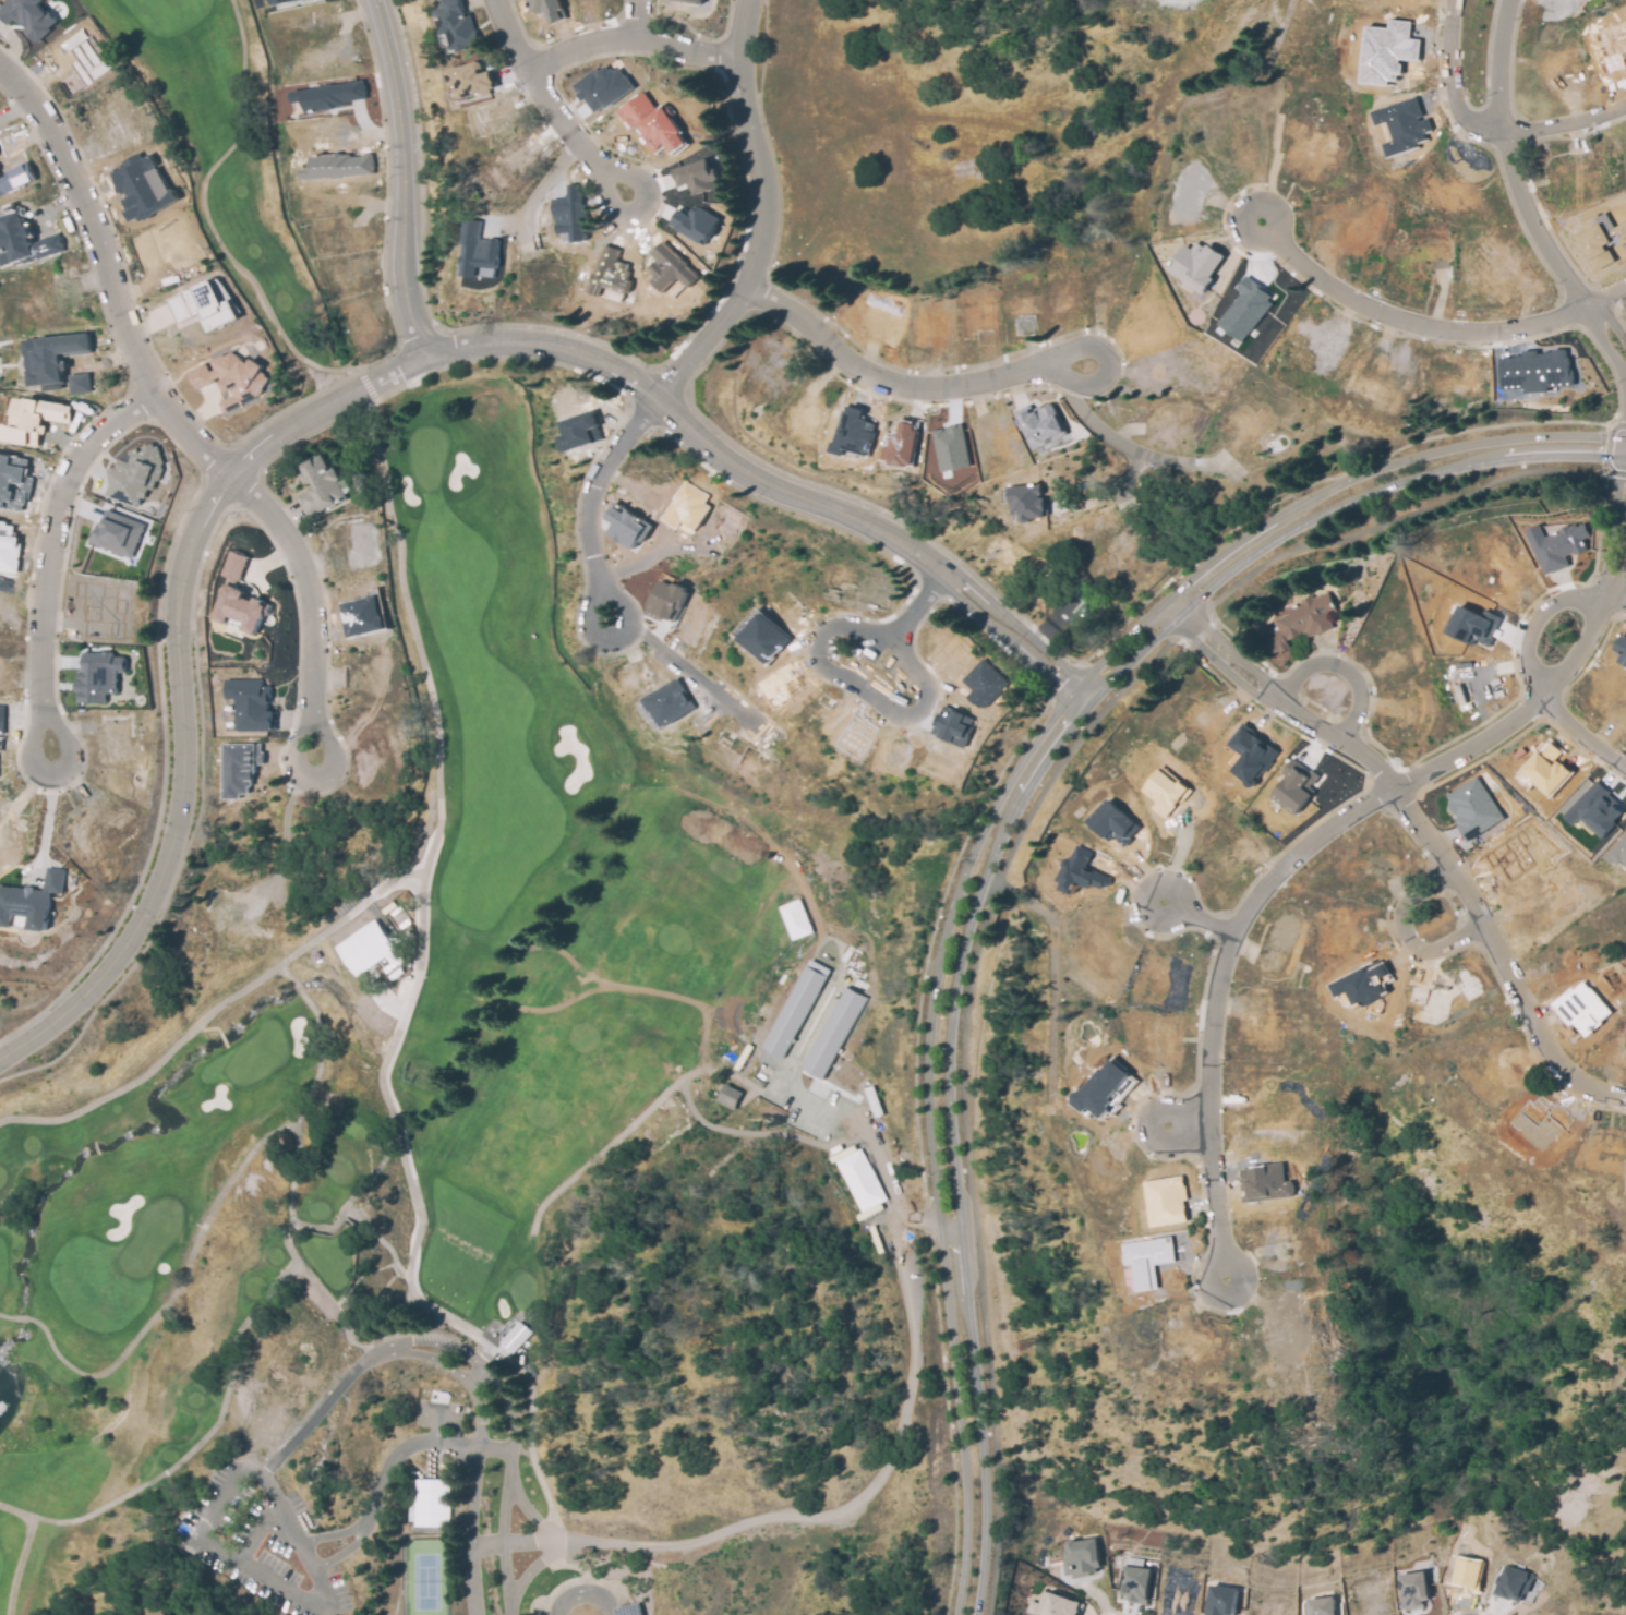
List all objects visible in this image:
building: (276, 1)
building: (696, 1)
building: (546, 8)
building: (28, 16)
road: (634, 19)
building: (455, 23)
road: (508, 35)
road: (629, 37)
building: (1387, 51)
building: (471, 79)
road: (1452, 81)
building: (601, 86)
building: (326, 95)
building: (651, 122)
building: (1400, 125)
road: (1565, 125)
road: (1509, 165)
building: (335, 167)
building: (696, 173)
building: (16, 179)
road: (401, 179)
road: (604, 181)
building: (141, 186)
road: (543, 188)
road: (763, 214)
building: (568, 215)
building: (695, 222)
building: (22, 239)
building: (1600, 239)
building: (477, 251)
building: (670, 268)
building: (1195, 268)
building: (609, 275)
road: (108, 278)
road: (1607, 298)
building: (202, 304)
road: (1362, 305)
building: (1244, 310)
road: (1612, 324)
road: (1609, 350)
building: (48, 359)
building: (1538, 369)
building: (228, 377)
building: (77, 382)
road: (962, 384)
road: (369, 389)
building: (32, 420)
building: (1040, 422)
building: (579, 431)
building: (851, 432)
building: (901, 444)
building: (950, 447)
road: (1133, 454)
road: (1606, 454)
building: (133, 475)
building: (14, 483)
building: (322, 485)
road: (1324, 494)
building: (1025, 499)
road: (589, 502)
building: (687, 506)
road: (1330, 509)
building: (625, 526)
building: (117, 534)
building: (1557, 544)
building: (7, 549)
road: (49, 556)
building: (238, 595)
building: (665, 599)
road: (1615, 603)
road: (310, 604)
building: (363, 614)
building: (1076, 616)
building: (1304, 620)
road: (908, 622)
building: (1471, 625)
road: (1534, 626)
building: (763, 637)
building: (1621, 648)
road: (1341, 667)
road: (684, 673)
building: (98, 677)
building: (983, 684)
building: (776, 686)
building: (250, 703)
building: (665, 704)
building: (0, 713)
building: (951, 726)
road: (1053, 731)
road: (1581, 736)
building: (1251, 756)
building: (1545, 768)
building: (239, 769)
building: (1294, 785)
building: (1164, 792)
building: (1472, 808)
building: (1594, 809)
road: (47, 812)
building: (1111, 823)
road: (287, 824)
road: (969, 827)
road: (1428, 841)
road: (1309, 843)
building: (1619, 852)
road: (1011, 866)
building: (1077, 873)
road: (378, 889)
building: (24, 908)
road: (1201, 917)
building: (795, 919)
road: (1405, 937)
building: (365, 948)
building: (1362, 984)
building: (795, 1008)
building: (1582, 1008)
road: (401, 1019)
building: (833, 1033)
park: (484, 1078)
building: (1103, 1089)
road: (662, 1092)
building: (731, 1097)
road: (1183, 1122)
road: (760, 1133)
building: (859, 1179)
building: (1263, 1183)
road: (937, 1185)
road: (962, 1190)
building: (1165, 1201)
road: (915, 1218)
road: (313, 1229)
road: (194, 1241)
road: (410, 1253)
building: (1144, 1261)
road: (5, 1315)
road: (20, 1317)
building: (515, 1335)
road: (409, 1353)
road: (492, 1376)
road: (221, 1402)
road: (478, 1434)
building: (431, 1500)
road: (528, 1509)
road: (210, 1520)
road: (509, 1522)
road: (749, 1522)
road: (470, 1532)
road: (513, 1542)
road: (350, 1546)
road: (23, 1550)
building: (1081, 1557)
park: (432, 1569)
building: (1467, 1574)
road: (525, 1577)
building: (1513, 1582)
building: (1135, 1583)
building: (1413, 1590)
road: (318, 1593)
road: (581, 1593)
building: (1221, 1601)
building: (1052, 1605)
building: (1322, 1606)
building: (161, 1613)

